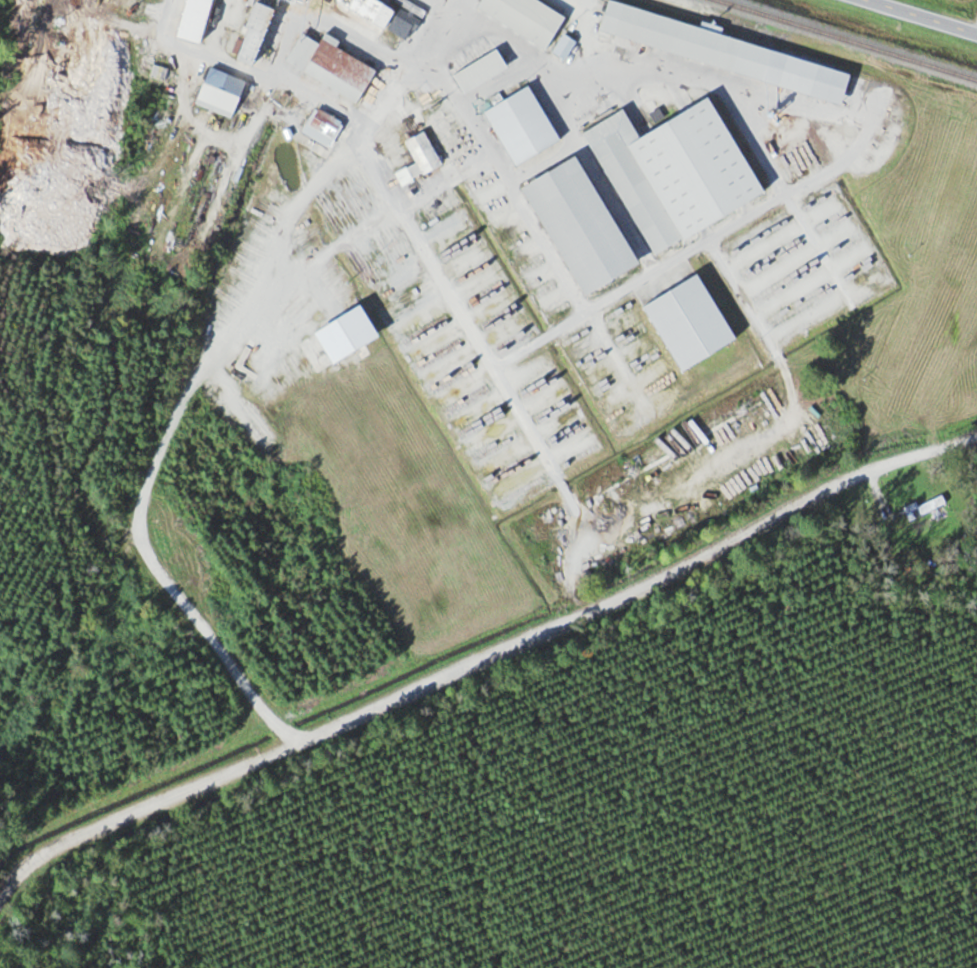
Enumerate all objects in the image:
building: (298, 1)
building: (383, 16)
road: (918, 17)
building: (524, 18)
building: (191, 20)
road: (975, 31)
building: (252, 33)
railway: (848, 39)
building: (564, 47)
building: (723, 52)
building: (330, 65)
building: (479, 71)
building: (219, 91)
building: (521, 124)
building: (322, 127)
building: (419, 159)
building: (673, 172)
building: (578, 226)
building: (687, 322)
building: (926, 507)
building: (545, 568)
road: (484, 660)

